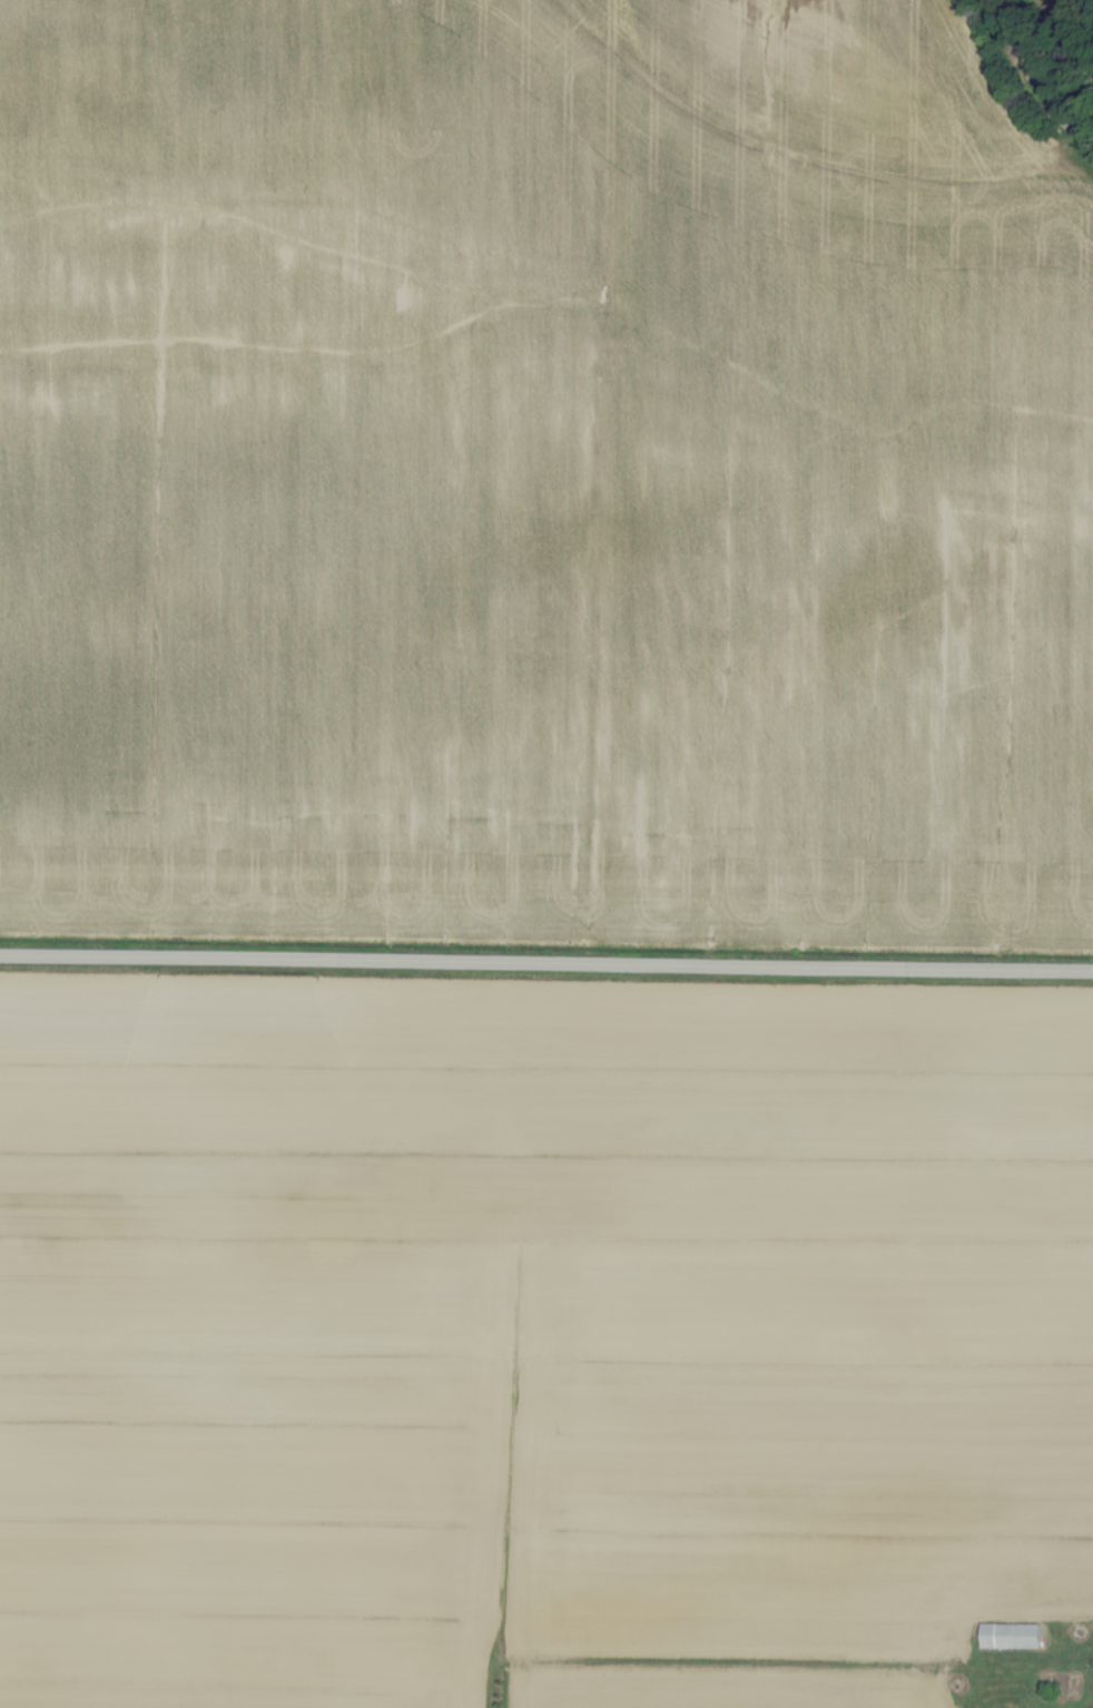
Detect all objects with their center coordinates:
road: (1050, 63)
road: (546, 963)
building: (1013, 1637)

